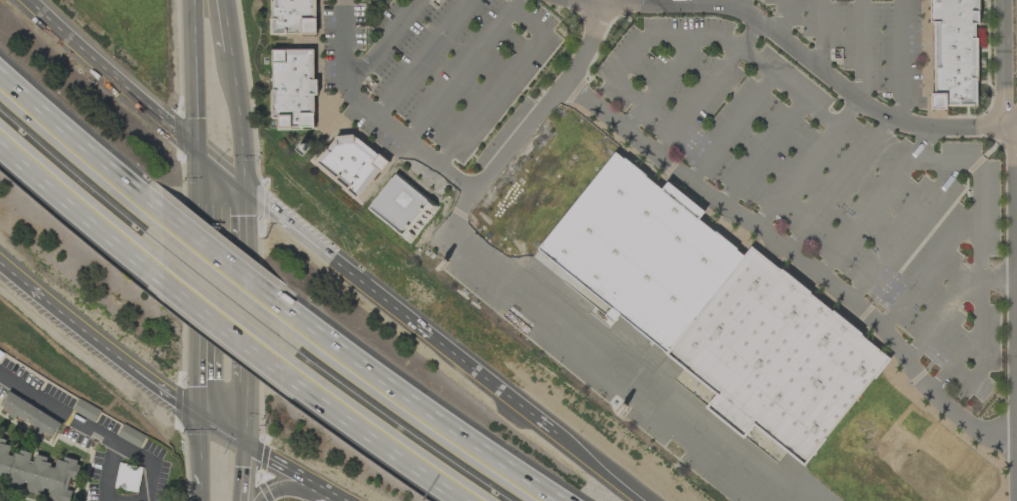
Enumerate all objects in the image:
road: (589, 1)
road: (742, 6)
building: (292, 16)
road: (781, 19)
road: (527, 22)
road: (226, 25)
road: (821, 34)
road: (381, 40)
road: (630, 46)
road: (862, 51)
building: (958, 54)
road: (419, 57)
road: (757, 60)
road: (811, 61)
road: (902, 61)
parking lot: (450, 62)
road: (1012, 62)
road: (102, 70)
road: (193, 80)
road: (707, 86)
building: (292, 87)
road: (848, 112)
road: (376, 115)
road: (238, 121)
road: (531, 124)
road: (731, 127)
road: (920, 142)
road: (77, 146)
road: (185, 150)
road: (762, 151)
traffic signals: (196, 161)
building: (348, 163)
road: (219, 177)
road: (797, 180)
road: (839, 189)
traffic signals: (243, 193)
road: (981, 201)
road: (72, 206)
building: (400, 206)
road: (863, 219)
road: (902, 235)
road: (196, 244)
road: (792, 263)
road: (335, 267)
road: (235, 272)
road: (928, 273)
road: (997, 279)
road: (1015, 279)
road: (1014, 284)
road: (24, 286)
road: (243, 289)
road: (946, 306)
road: (221, 321)
road: (123, 362)
building: (776, 362)
road: (613, 371)
road: (197, 372)
road: (491, 391)
road: (1016, 405)
building: (85, 410)
road: (58, 411)
road: (244, 415)
building: (31, 416)
traffic signals: (197, 417)
road: (435, 417)
road: (220, 431)
road: (388, 439)
road: (1016, 442)
traffic signals: (244, 445)
road: (253, 450)
road: (198, 453)
road: (149, 464)
road: (1016, 465)
road: (109, 471)
road: (591, 471)
building: (37, 473)
road: (241, 473)
road: (301, 478)
road: (1016, 487)
road: (290, 491)
road: (1016, 494)
road: (199, 495)

